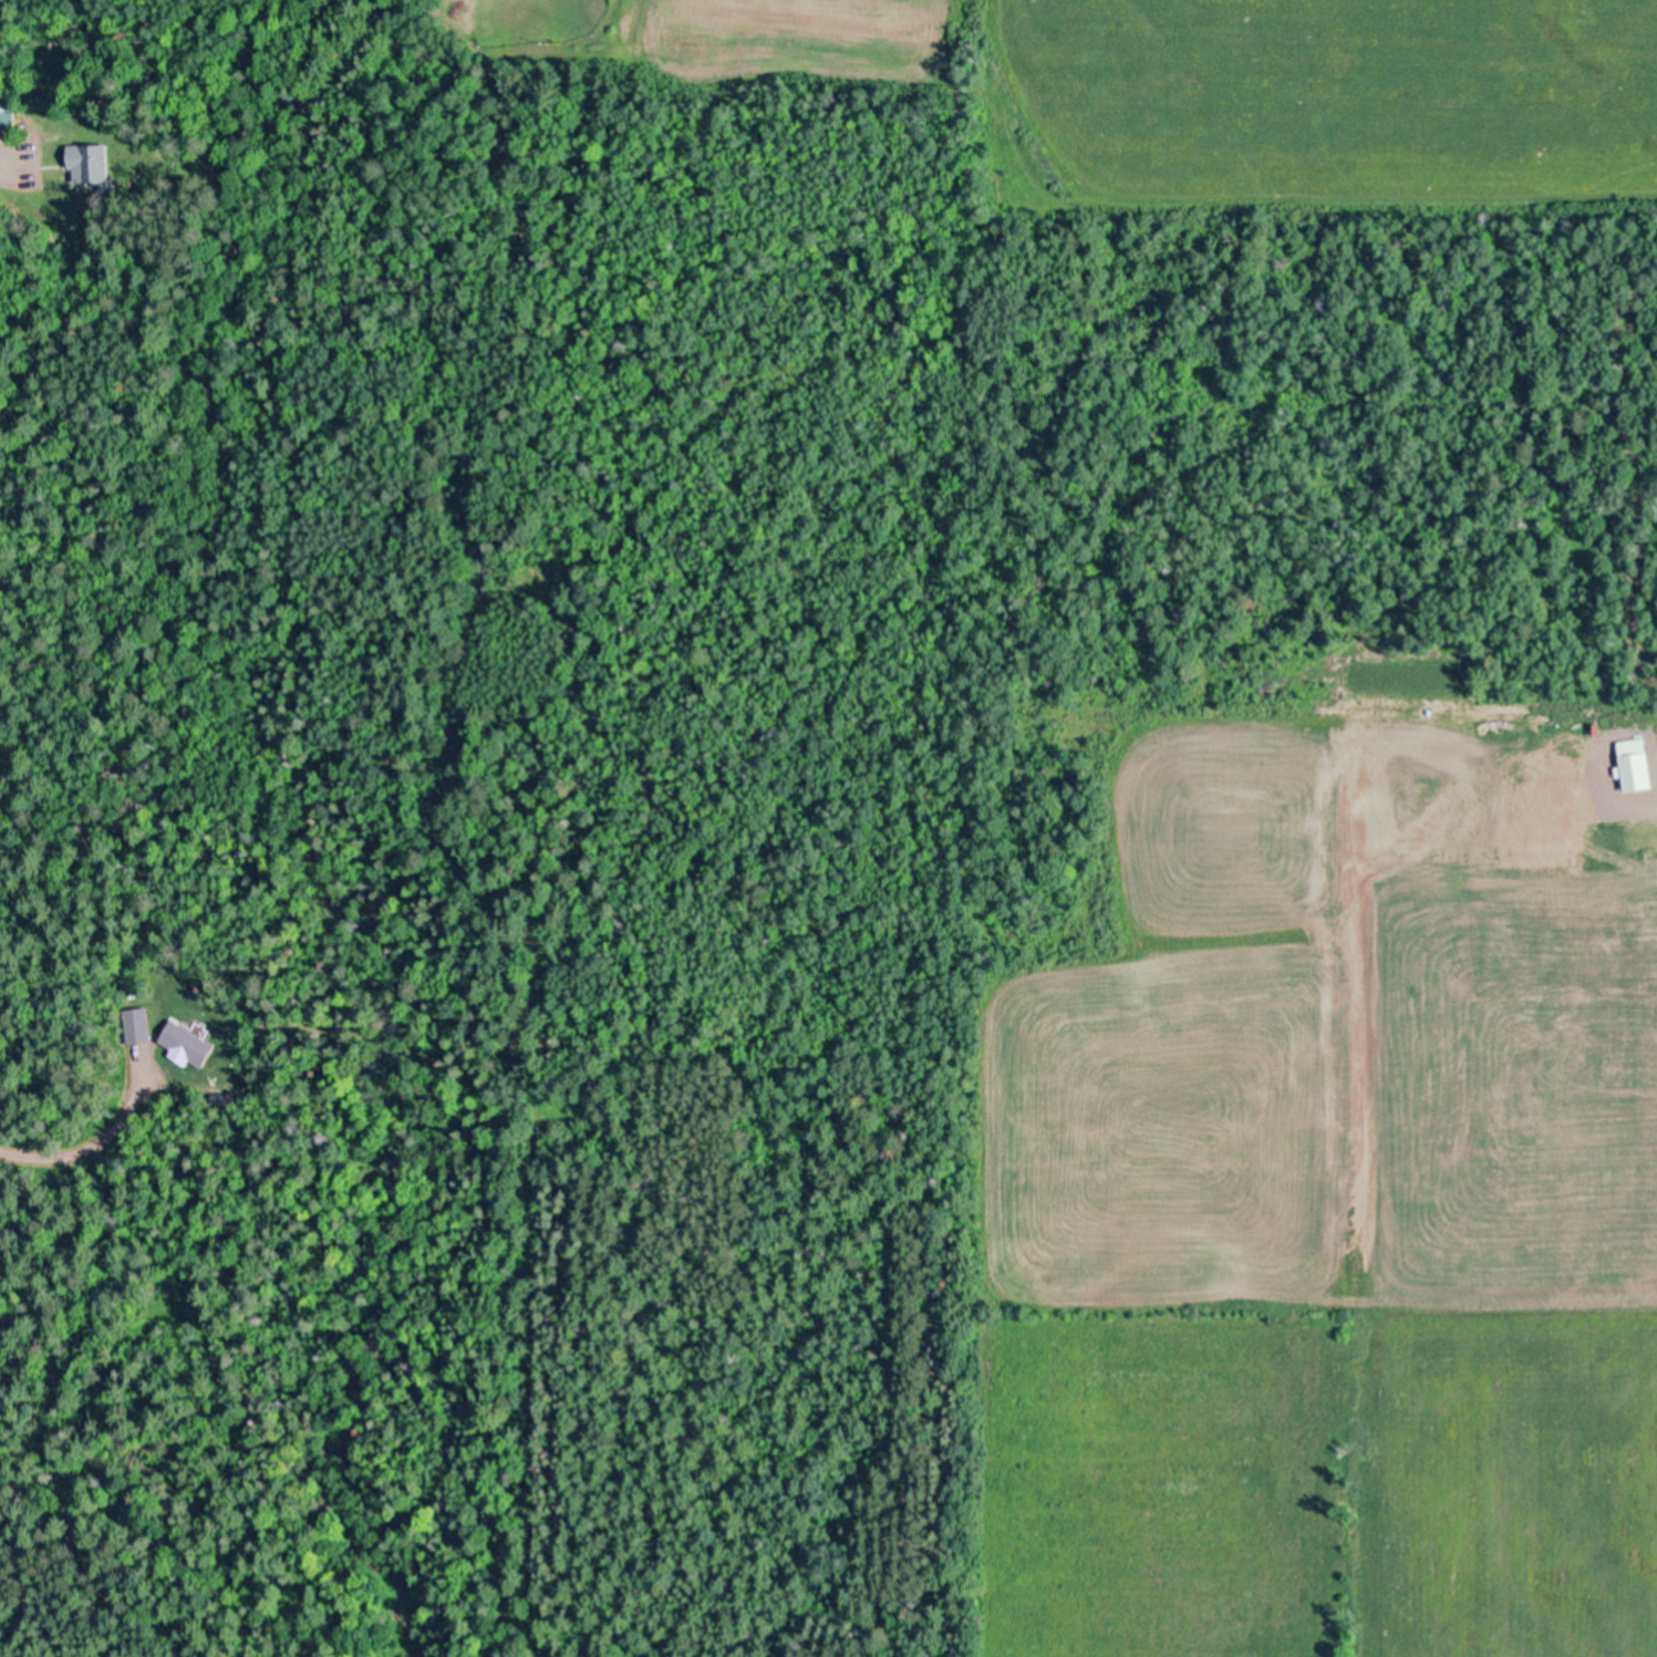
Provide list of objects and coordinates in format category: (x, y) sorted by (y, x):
building: (7, 118)
building: (90, 163)
building: (191, 1043)

